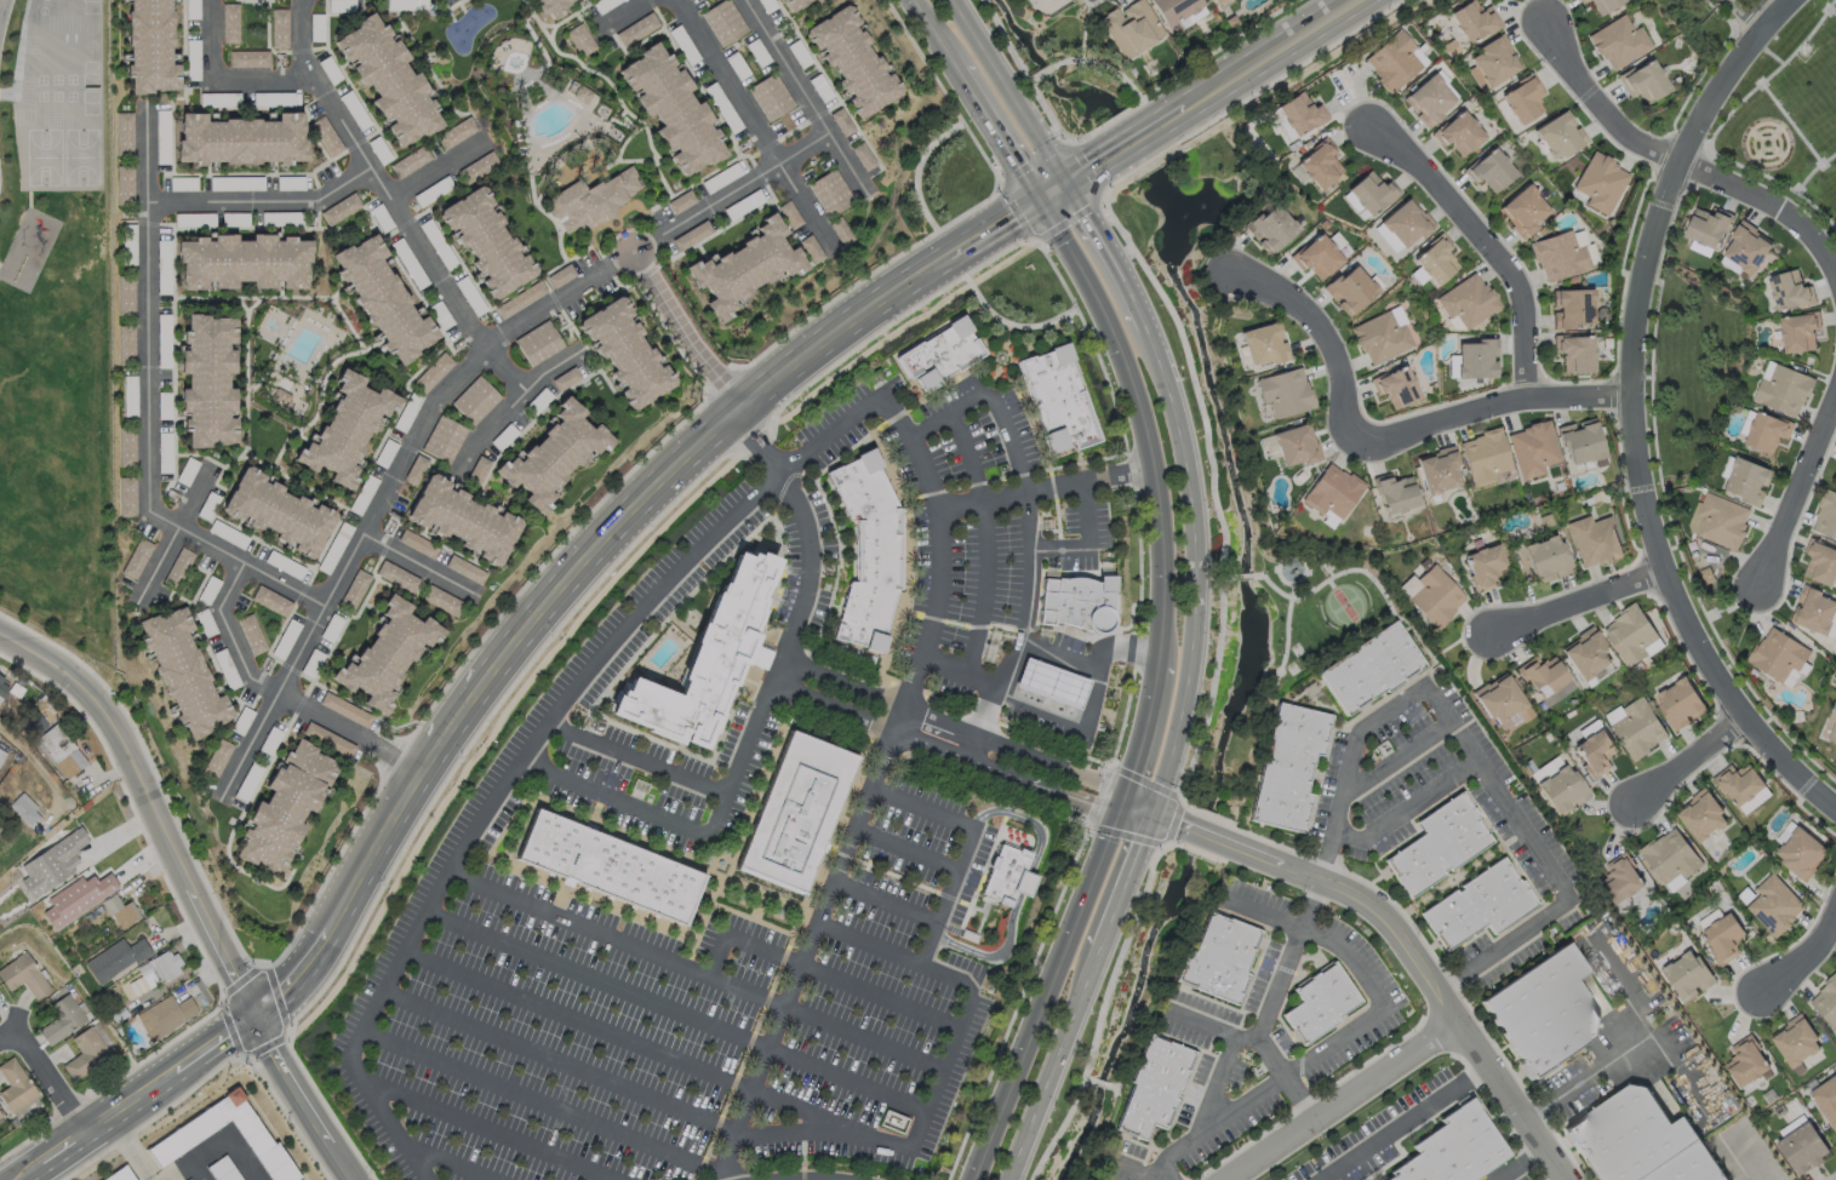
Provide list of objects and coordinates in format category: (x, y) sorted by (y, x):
building: (1212, 1)
building: (1217, 1)
building: (795, 4)
building: (604, 5)
building: (551, 6)
building: (1600, 6)
road: (1779, 6)
road: (1829, 7)
building: (1173, 8)
road: (1, 10)
road: (622, 15)
building: (1472, 21)
building: (723, 22)
road: (1735, 22)
building: (229, 23)
road: (298, 25)
park: (467, 25)
building: (279, 28)
building: (636, 29)
building: (1133, 29)
road: (1085, 31)
road: (933, 36)
building: (579, 39)
building: (1618, 40)
building: (153, 44)
road: (1797, 47)
road: (1769, 52)
road: (1270, 53)
building: (248, 58)
building: (1394, 59)
building: (1493, 59)
building: (851, 61)
road: (1104, 64)
road: (1047, 69)
road: (1024, 71)
road: (1033, 76)
building: (1643, 79)
road: (222, 80)
building: (389, 80)
road: (1007, 90)
building: (580, 93)
building: (770, 96)
road: (805, 97)
building: (1429, 99)
building: (1522, 102)
building: (670, 105)
building: (1302, 113)
road: (1172, 115)
park: (1790, 115)
building: (161, 126)
road: (754, 126)
building: (124, 132)
building: (456, 132)
building: (1462, 133)
road: (995, 134)
building: (325, 136)
building: (1558, 136)
building: (242, 139)
road: (1127, 143)
road: (1808, 147)
building: (862, 155)
road: (1829, 157)
road: (28, 159)
park: (64, 159)
building: (1488, 160)
building: (410, 161)
road: (1674, 161)
building: (1321, 166)
road: (437, 167)
building: (476, 167)
road: (1086, 168)
road: (1081, 171)
traffic signals: (1065, 181)
building: (291, 182)
building: (1598, 182)
building: (125, 184)
road: (1051, 189)
building: (830, 191)
building: (1372, 193)
traffic signals: (1036, 197)
building: (1520, 197)
road: (261, 200)
building: (680, 201)
building: (589, 202)
fountain: (1189, 204)
building: (339, 208)
road: (1815, 208)
building: (789, 214)
fountain: (613, 222)
building: (1406, 223)
road: (405, 224)
road: (993, 227)
building: (1274, 227)
building: (1705, 227)
building: (427, 228)
building: (840, 230)
building: (688, 236)
road: (652, 239)
building: (485, 241)
road: (1481, 244)
building: (1552, 244)
building: (1745, 247)
building: (811, 248)
road: (1113, 254)
building: (1319, 257)
building: (240, 260)
building: (1436, 263)
building: (743, 267)
building: (560, 275)
building: (1788, 288)
building: (1350, 290)
building: (382, 296)
building: (1572, 296)
building: (125, 297)
building: (519, 299)
building: (1466, 299)
building: (1802, 328)
building: (1380, 337)
building: (1575, 340)
building: (125, 342)
building: (538, 342)
road: (1321, 342)
building: (931, 343)
building: (1264, 345)
building: (623, 353)
fountain: (1001, 356)
building: (1475, 360)
building: (433, 371)
building: (565, 378)
building: (207, 380)
building: (1053, 386)
building: (1394, 386)
building: (1788, 389)
building: (1285, 393)
building: (474, 400)
road: (1494, 401)
road: (510, 402)
road: (1635, 412)
building: (405, 414)
road: (1139, 420)
building: (347, 426)
building: (1761, 430)
building: (442, 439)
road: (691, 443)
building: (1297, 446)
building: (1582, 446)
building: (126, 448)
building: (1534, 451)
building: (384, 452)
building: (550, 453)
building: (1487, 459)
building: (414, 468)
building: (476, 469)
building: (1440, 471)
building: (1740, 480)
road: (1041, 487)
road: (384, 489)
road: (1213, 491)
building: (1333, 492)
building: (1397, 493)
building: (362, 494)
building: (126, 496)
road: (1797, 498)
building: (280, 511)
road: (1085, 512)
building: (1826, 515)
road: (159, 516)
building: (464, 519)
building: (1718, 520)
road: (1020, 525)
road: (979, 532)
road: (171, 535)
building: (865, 539)
building: (1596, 540)
building: (416, 544)
road: (1054, 546)
building: (333, 548)
building: (136, 559)
building: (1546, 559)
building: (1487, 563)
building: (1821, 563)
road: (419, 565)
building: (464, 569)
road: (1248, 575)
building: (397, 577)
road: (1229, 577)
road: (1375, 582)
road: (282, 583)
road: (1196, 583)
building: (354, 589)
park: (1316, 597)
building: (1434, 598)
building: (261, 600)
building: (440, 600)
building: (1076, 603)
park: (1345, 603)
road: (1585, 605)
building: (1813, 608)
road: (1287, 634)
building: (1630, 636)
road: (1056, 648)
building: (389, 652)
building: (1589, 654)
building: (1775, 654)
building: (709, 655)
road: (53, 665)
building: (184, 670)
building: (1371, 670)
building: (1545, 675)
building: (0, 677)
gas station: (1049, 681)
building: (1051, 682)
building: (1, 687)
road: (761, 692)
building: (1503, 703)
building: (1681, 703)
road: (459, 704)
building: (344, 709)
road: (1088, 711)
road: (1383, 712)
building: (1830, 712)
road: (977, 717)
building: (1640, 727)
road: (1146, 729)
road: (966, 734)
building: (327, 739)
building: (58, 749)
road: (640, 752)
building: (1595, 752)
building: (1, 754)
road: (955, 755)
building: (216, 758)
road: (35, 764)
road: (531, 764)
road: (1686, 764)
road: (1397, 766)
building: (1291, 768)
building: (1542, 771)
building: (1741, 785)
building: (1561, 787)
road: (868, 794)
traffic signals: (1126, 794)
road: (922, 803)
traffic signals: (1152, 804)
building: (284, 806)
building: (21, 808)
road: (1509, 808)
building: (794, 812)
road: (1160, 813)
building: (1704, 817)
road: (1028, 820)
traffic signals: (1114, 820)
road: (1174, 823)
road: (1176, 824)
road: (1156, 825)
road: (387, 827)
traffic signals: (1145, 830)
road: (1206, 836)
road: (903, 841)
building: (1441, 847)
building: (1802, 852)
building: (1674, 857)
building: (50, 863)
building: (606, 866)
building: (1005, 875)
road: (1023, 882)
building: (1620, 882)
road: (1122, 888)
building: (75, 898)
building: (1777, 901)
road: (879, 904)
building: (1480, 905)
building: (116, 910)
building: (1709, 918)
building: (1722, 935)
road: (862, 938)
road: (221, 947)
road: (1808, 956)
building: (111, 958)
road: (993, 958)
building: (1223, 958)
road: (1288, 958)
road: (817, 963)
road: (690, 964)
building: (160, 966)
building: (1687, 972)
building: (22, 975)
road: (298, 976)
road: (1420, 976)
road: (1051, 986)
building: (1825, 1001)
building: (1323, 1003)
road: (670, 1006)
building: (1549, 1007)
road: (1100, 1010)
building: (166, 1013)
building: (59, 1018)
parking lot: (671, 1024)
road: (1345, 1032)
road: (13, 1037)
road: (624, 1039)
road: (1264, 1042)
building: (1798, 1042)
road: (1636, 1046)
building: (82, 1053)
road: (547, 1054)
road: (951, 1054)
road: (1056, 1062)
building: (1748, 1064)
road: (1681, 1073)
road: (1087, 1078)
road: (1214, 1082)
building: (13, 1084)
road: (1104, 1084)
road: (56, 1086)
building: (1156, 1088)
road: (136, 1098)
road: (530, 1098)
building: (1826, 1100)
road: (1345, 1102)
building: (0, 1116)
road: (1403, 1125)
building: (196, 1127)
road: (486, 1130)
building: (1646, 1142)
road: (219, 1144)
road: (131, 1149)
building: (1803, 1149)
building: (1448, 1151)
road: (1739, 1159)
road: (446, 1164)
road: (1526, 1168)
building: (222, 1169)
road: (199, 1170)
road: (1139, 1173)
building: (121, 1175)
building: (191, 1179)

